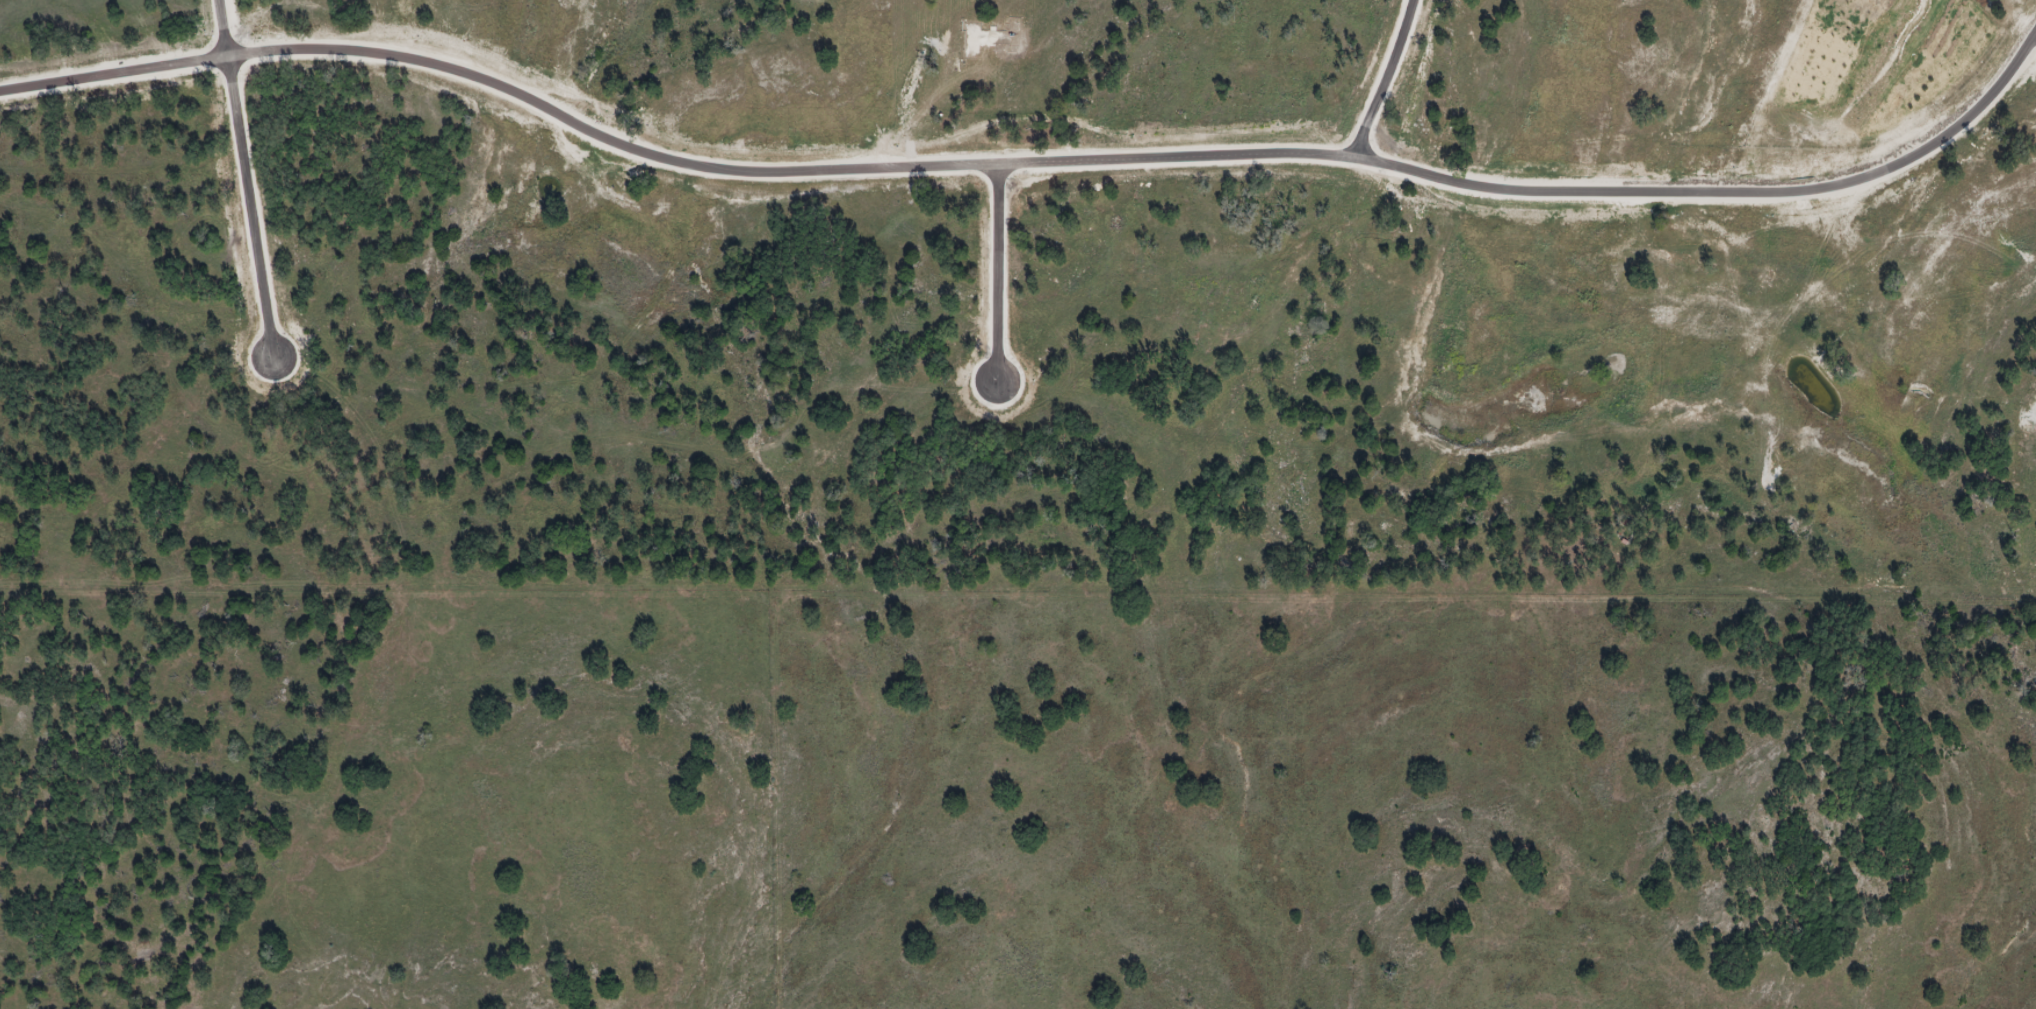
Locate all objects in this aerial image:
road: (1038, 159)
building: (1603, 480)

